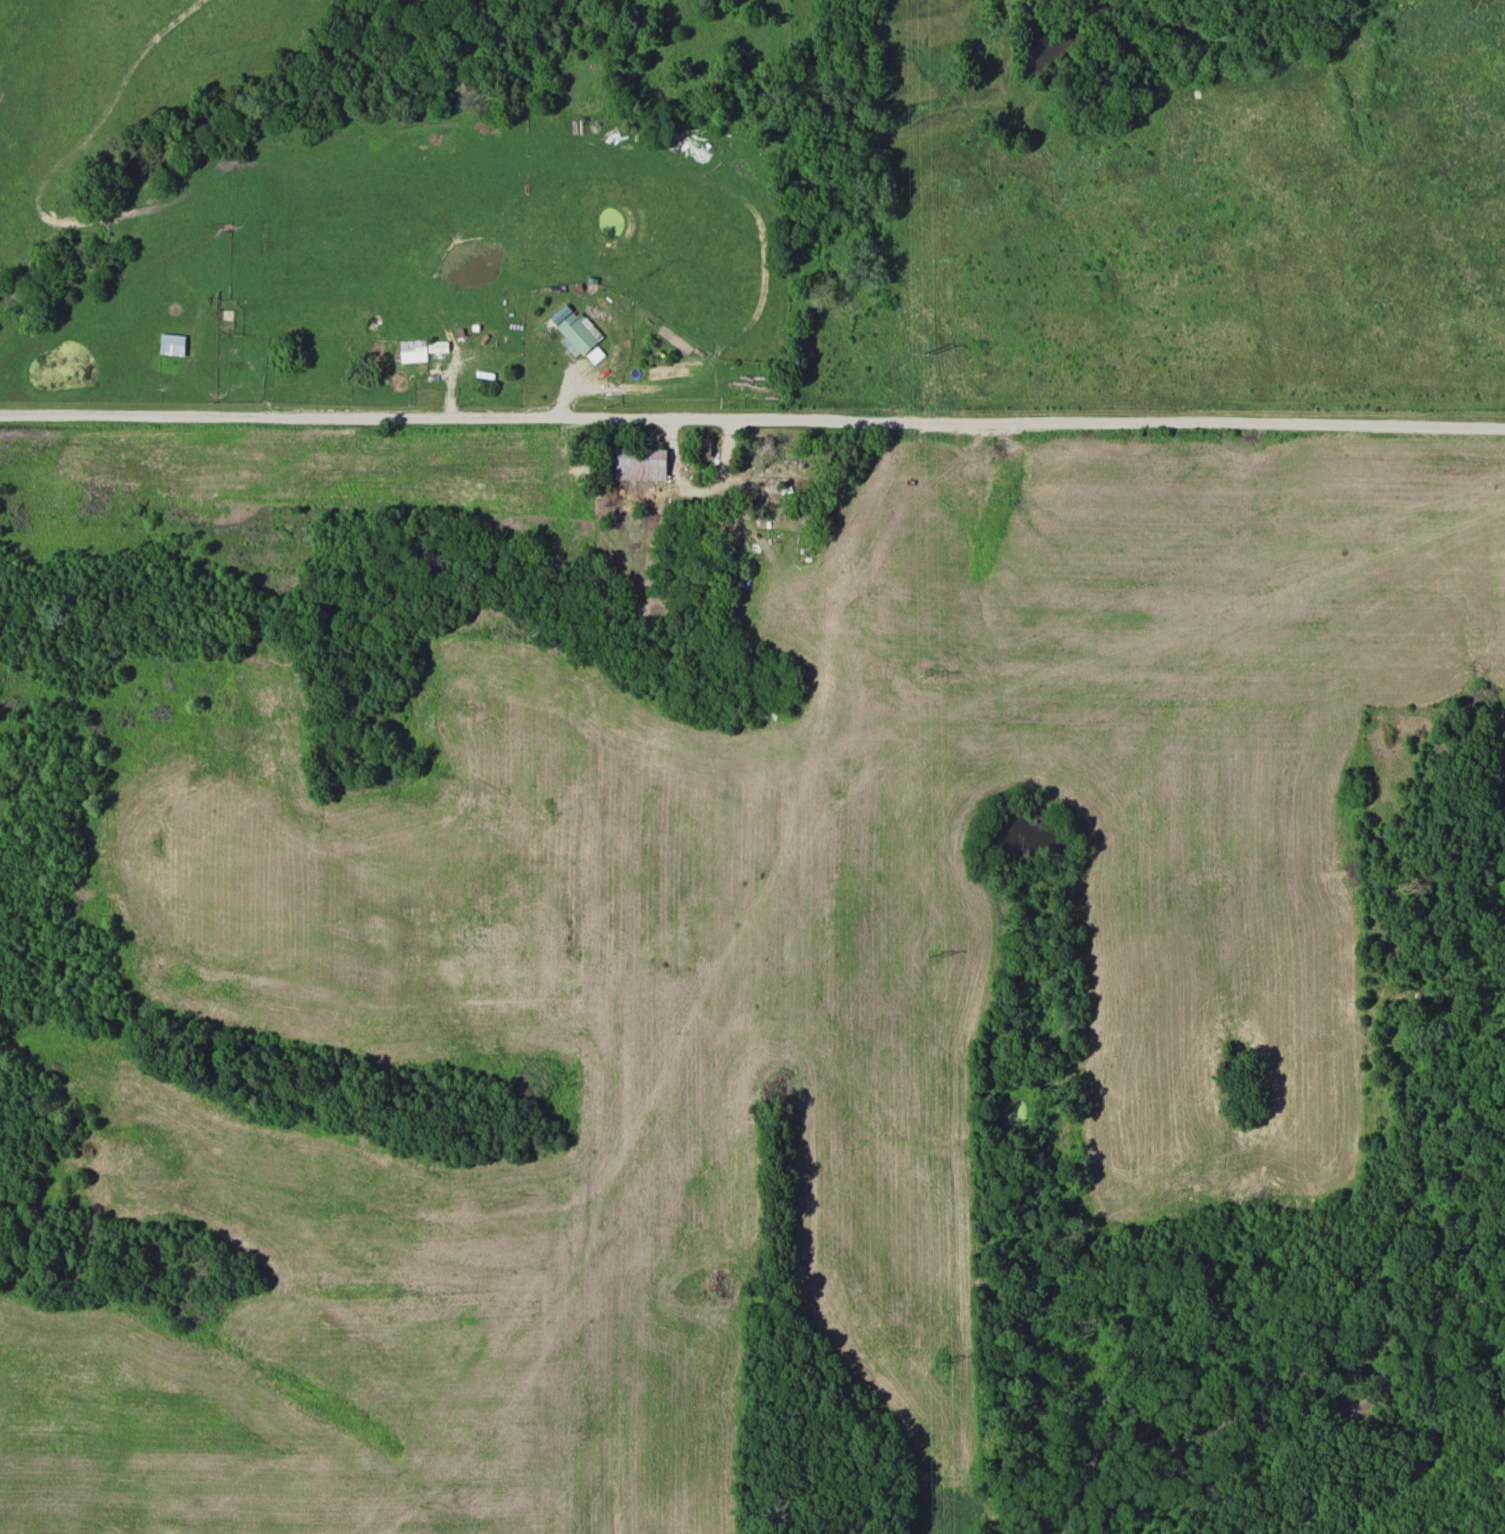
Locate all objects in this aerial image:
building: (412, 332)
building: (578, 335)
building: (495, 339)
building: (173, 345)
building: (438, 348)
power tower: (922, 355)
road: (752, 419)
building: (641, 464)
power tower: (937, 957)
power tower: (940, 1366)

